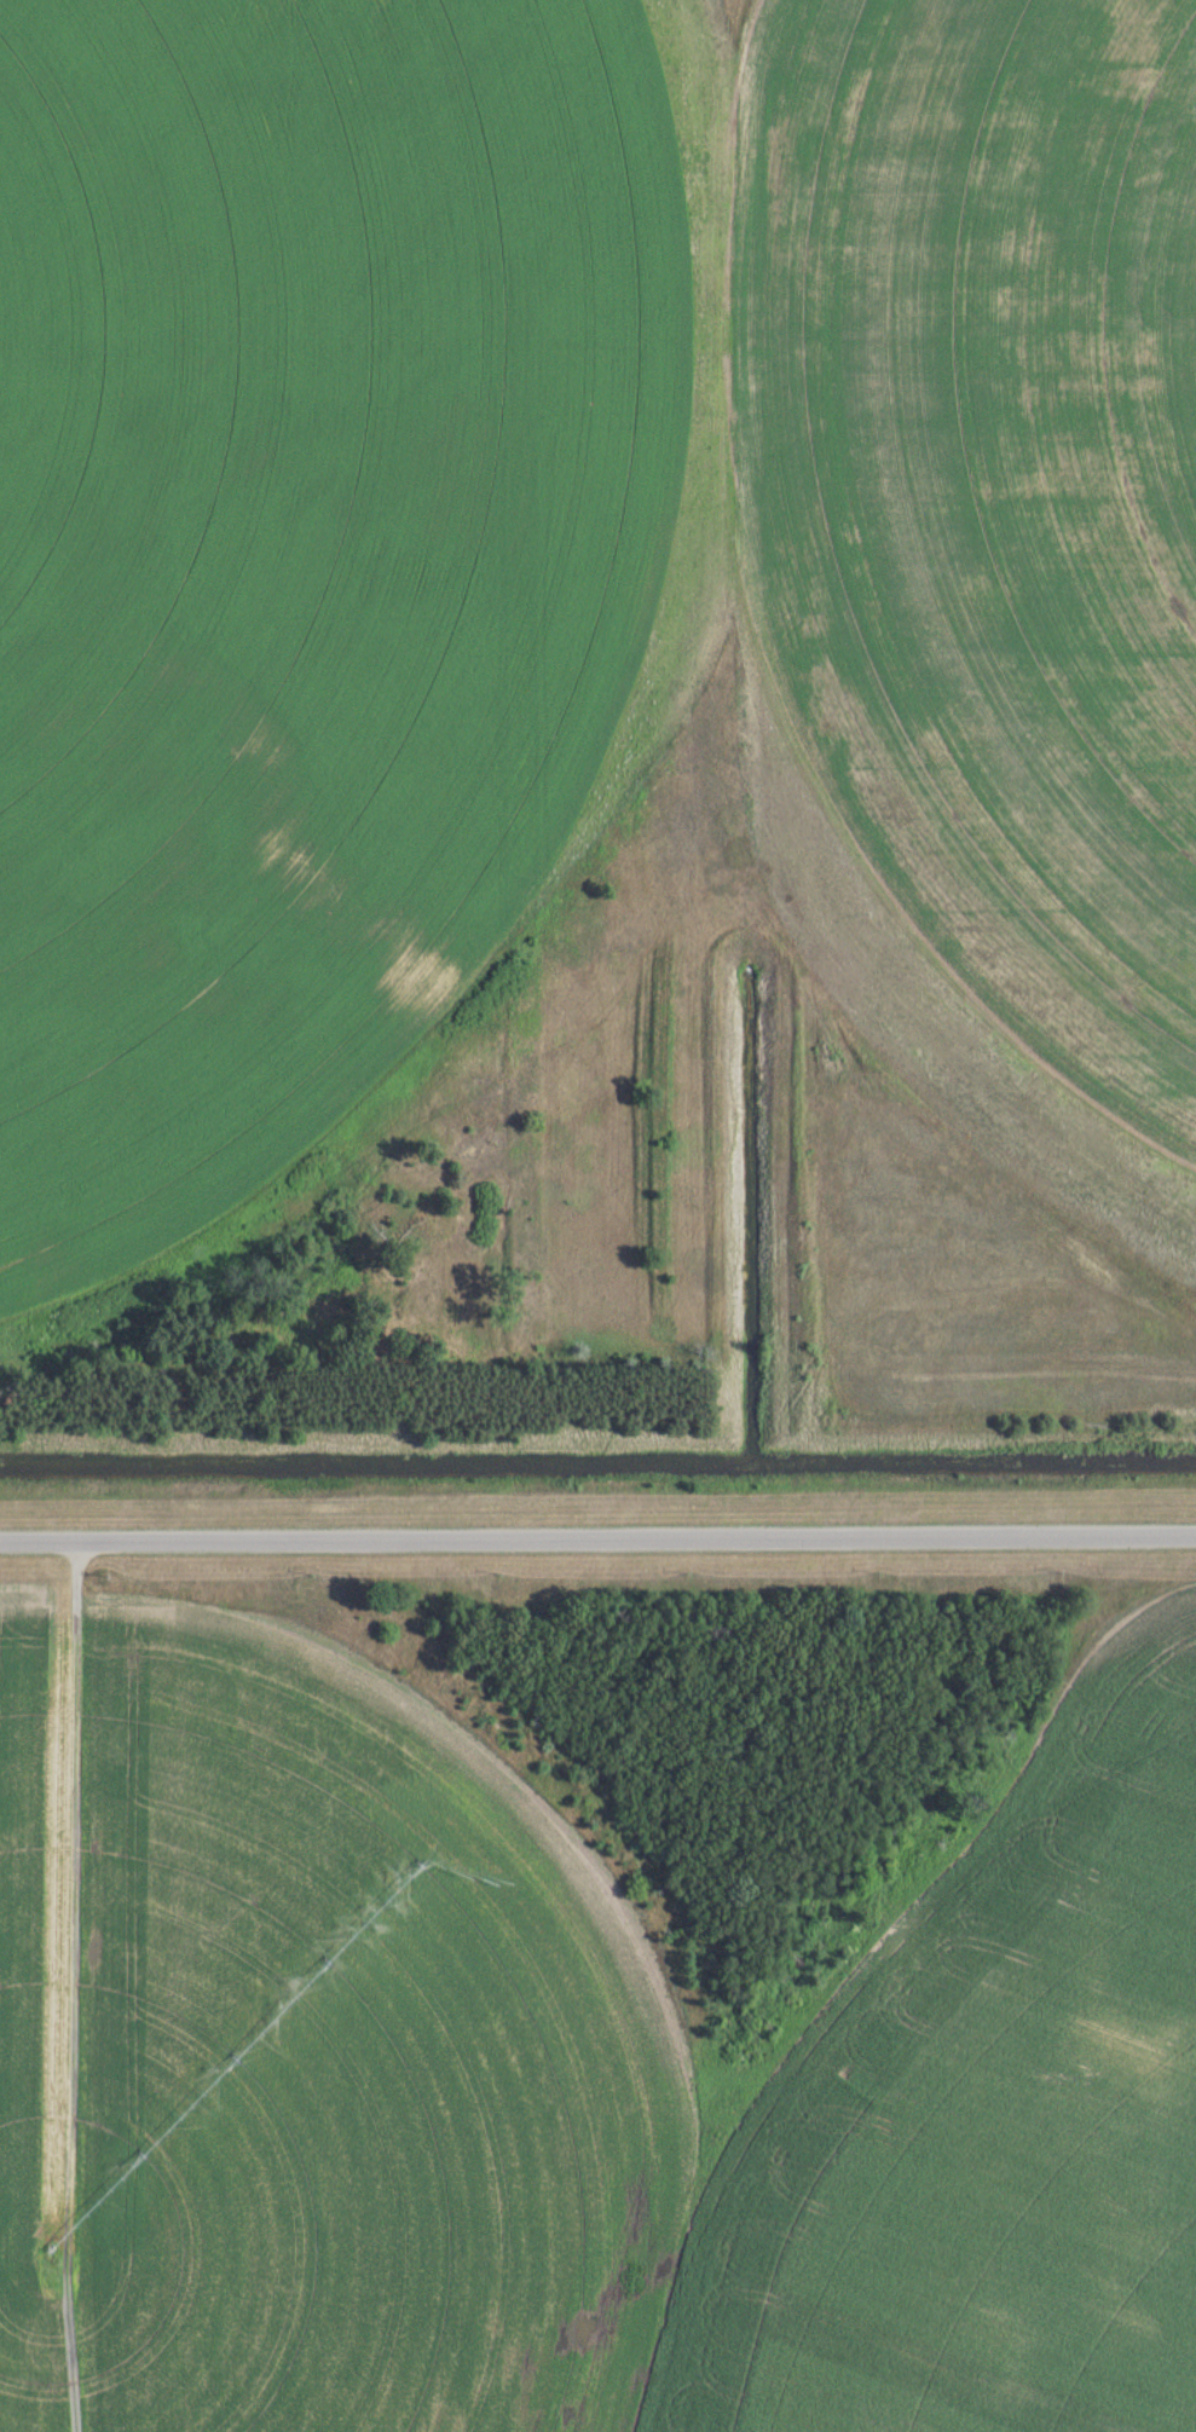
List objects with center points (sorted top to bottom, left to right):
wastewater plant: (597, 1215)
road: (597, 1533)

